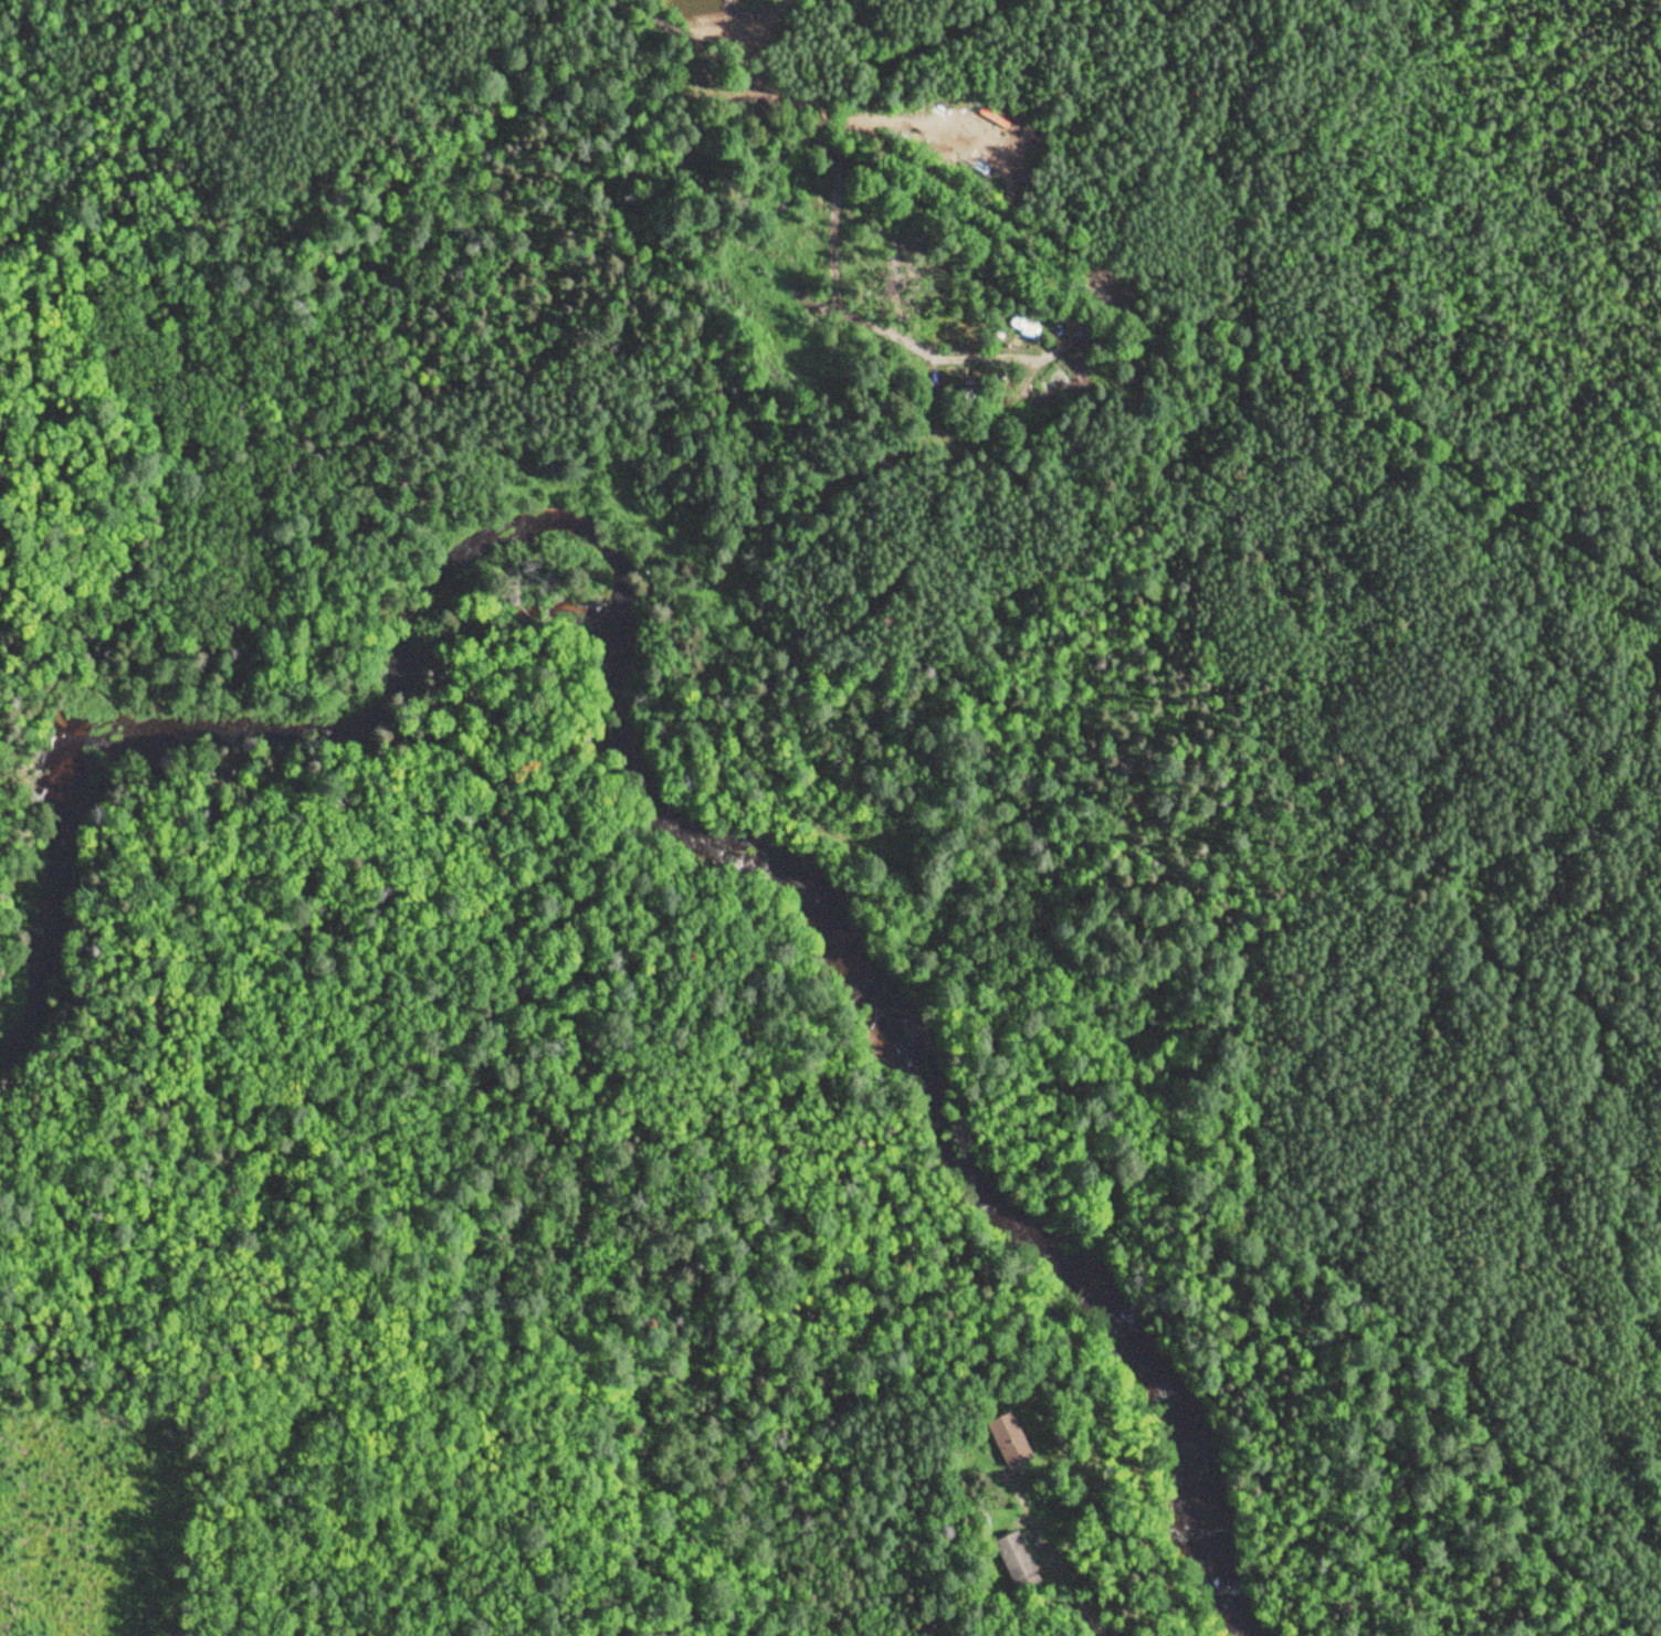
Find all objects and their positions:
river: (735, 851)
river: (48, 909)
building: (1010, 1438)
building: (1017, 1560)
road: (1093, 1633)

